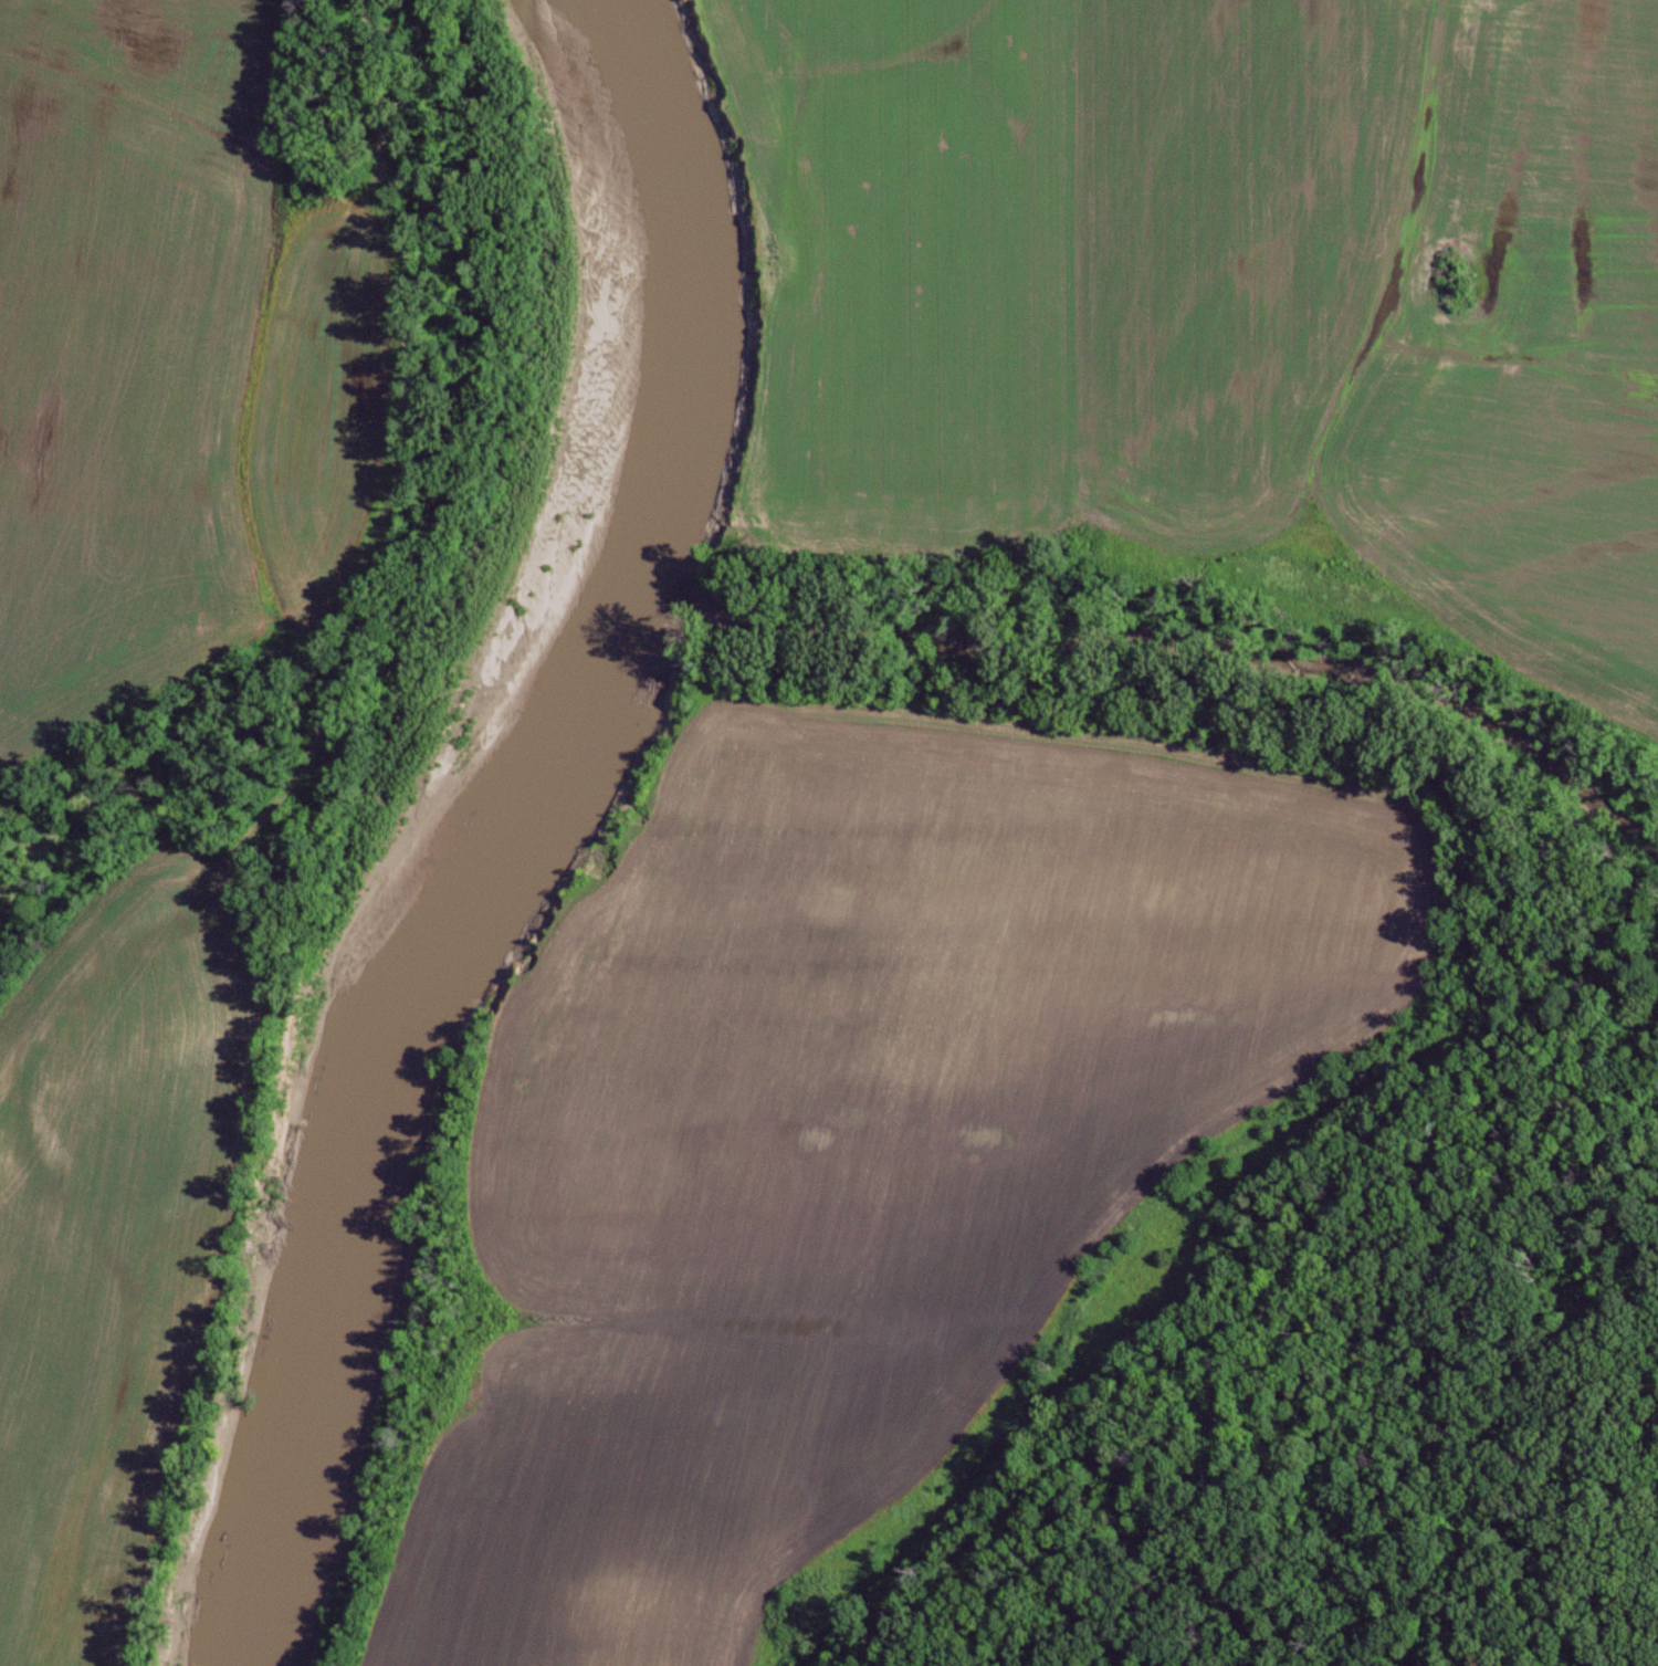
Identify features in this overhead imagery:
river: (1109, 621)
river: (444, 819)

